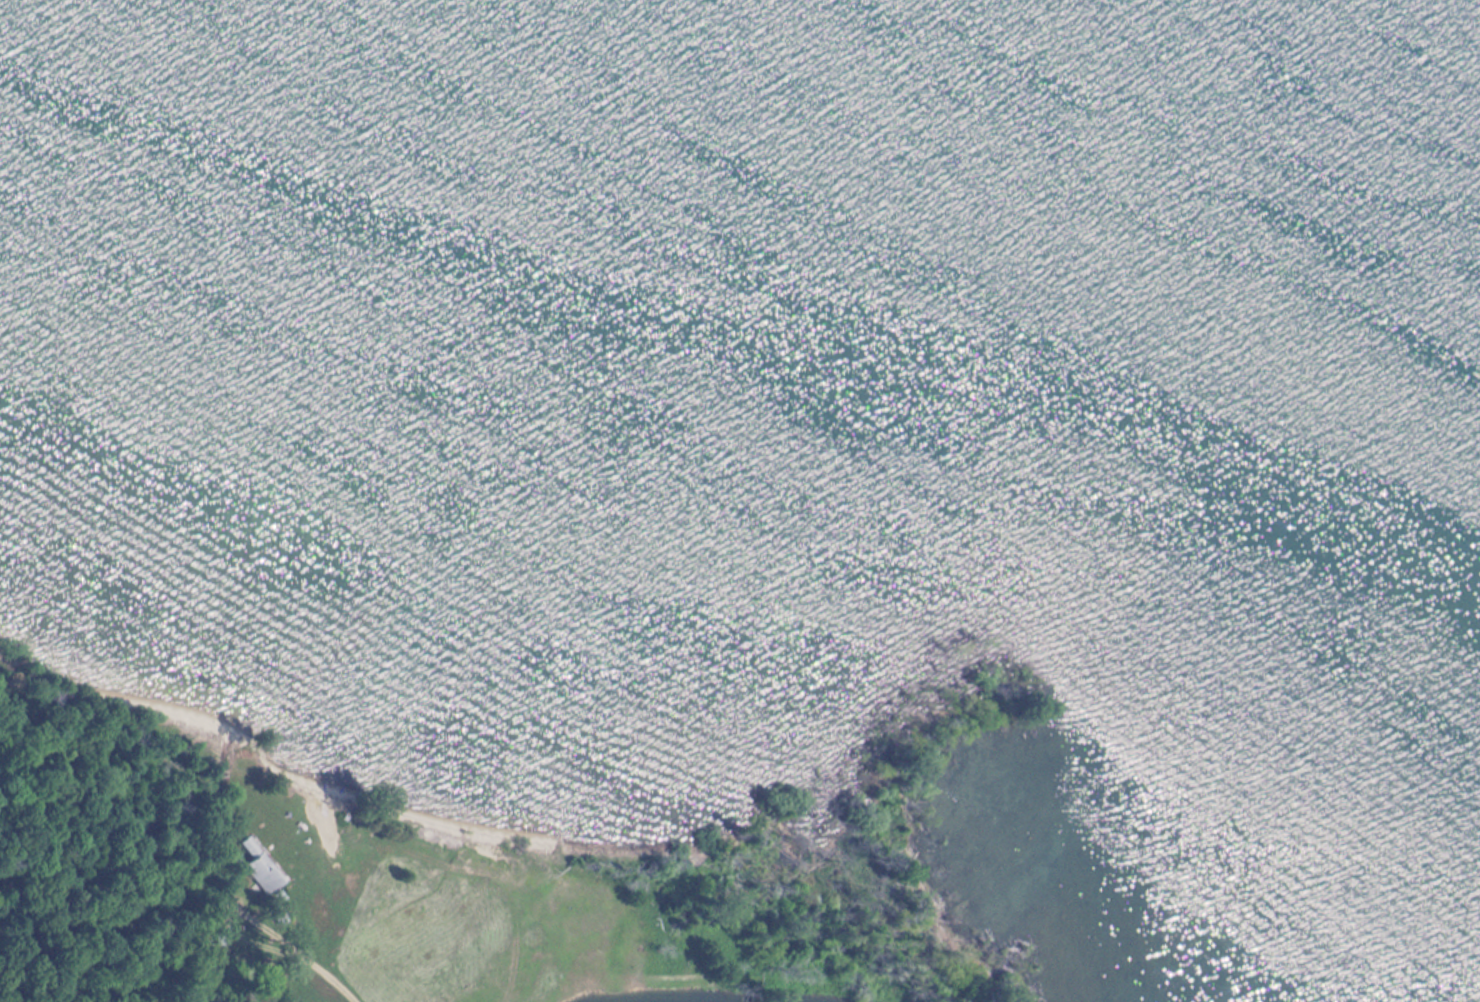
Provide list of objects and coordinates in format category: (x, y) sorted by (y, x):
building: (261, 868)
road: (316, 971)

